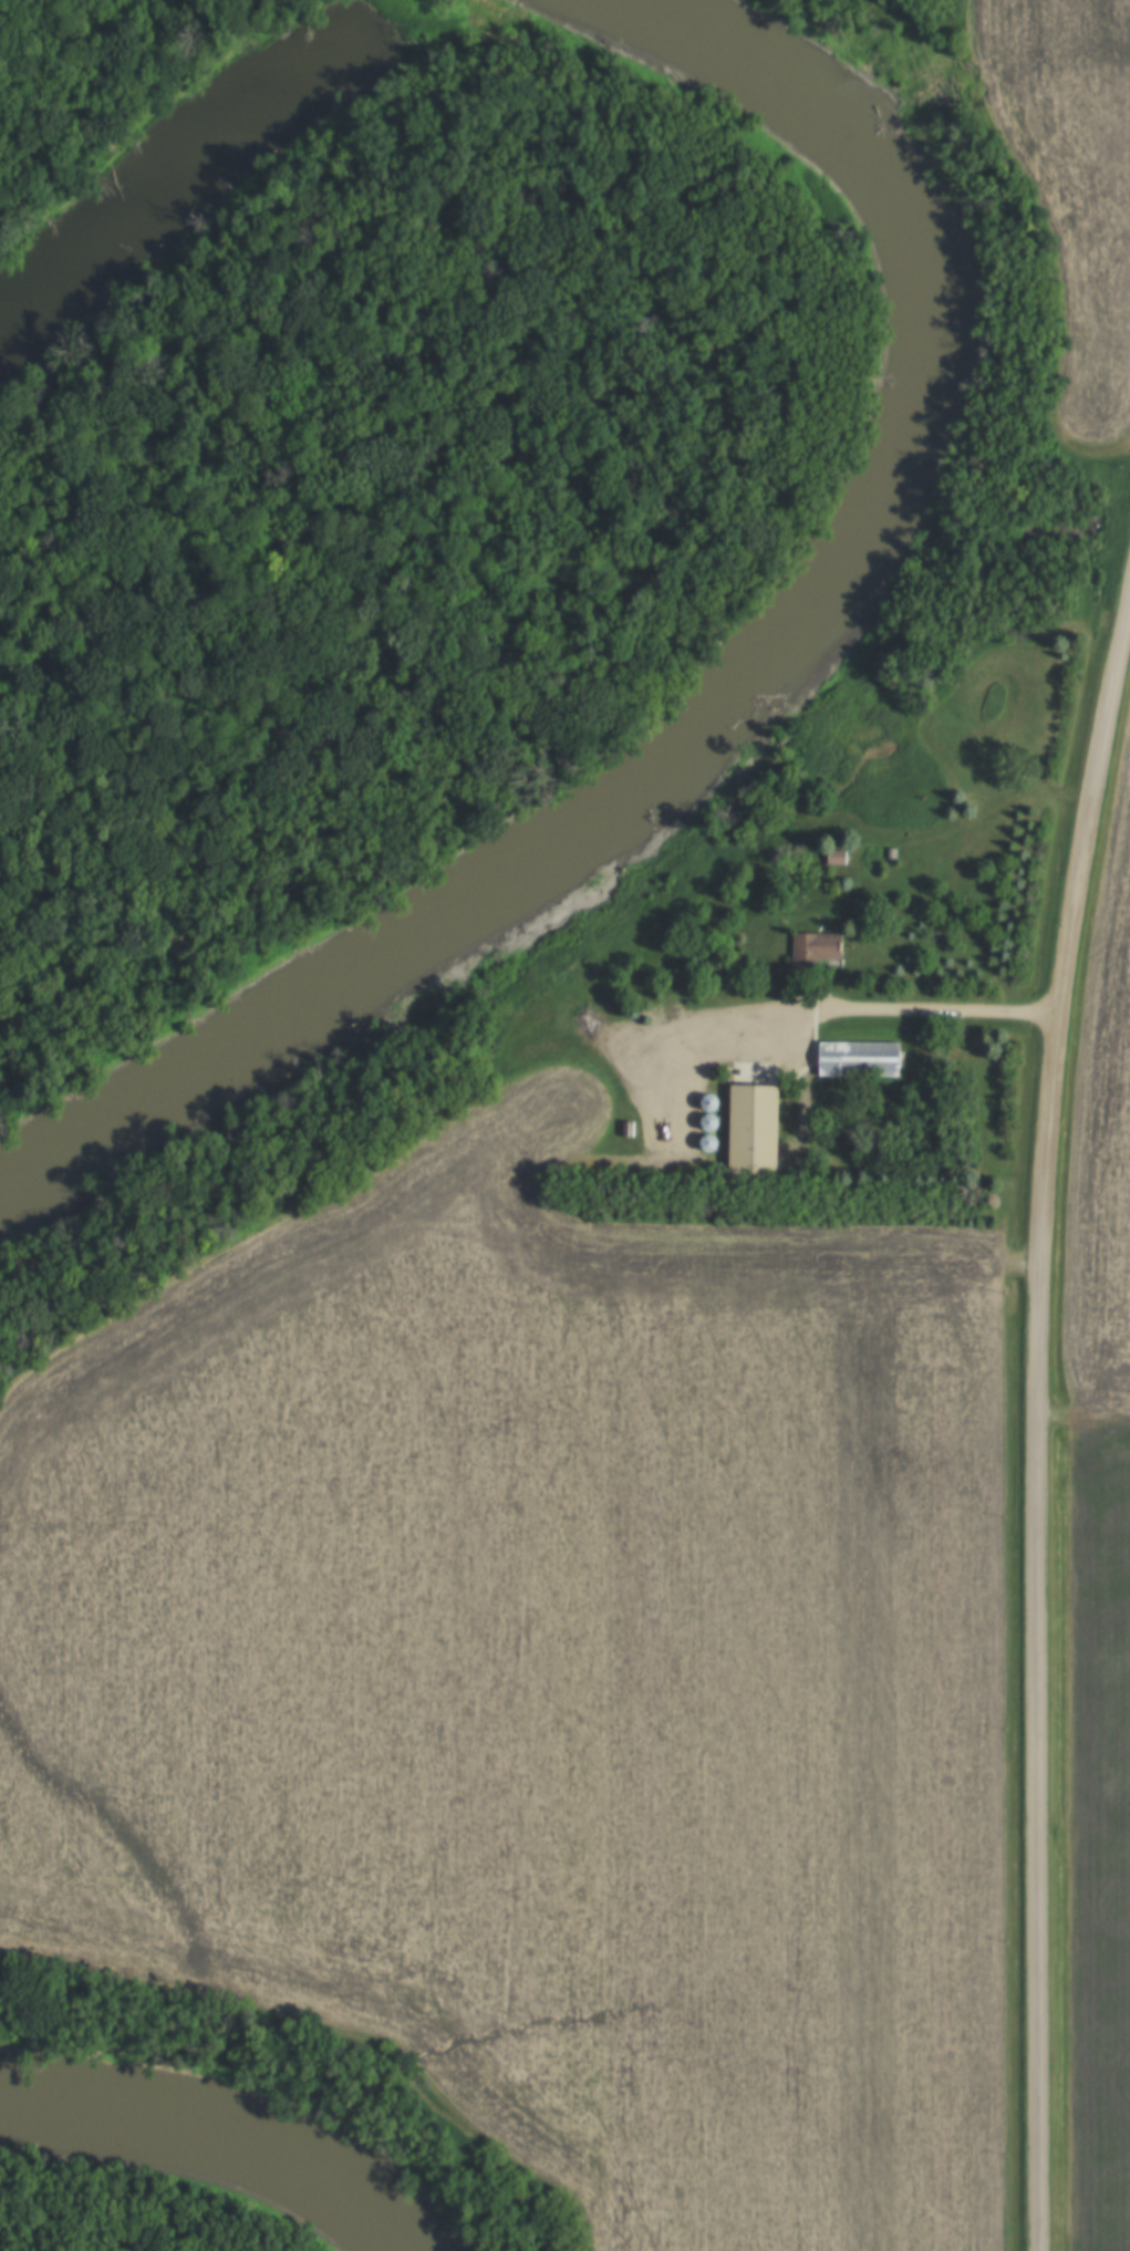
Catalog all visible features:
crop: (1072, 176)
river: (879, 203)
building: (832, 858)
river: (474, 927)
building: (812, 950)
road: (892, 1015)
building: (852, 1059)
building: (624, 1129)
building: (746, 1130)
crop: (1102, 1153)
road: (1037, 1414)
crop: (548, 1678)
crop: (1099, 1832)
river: (169, 2168)

